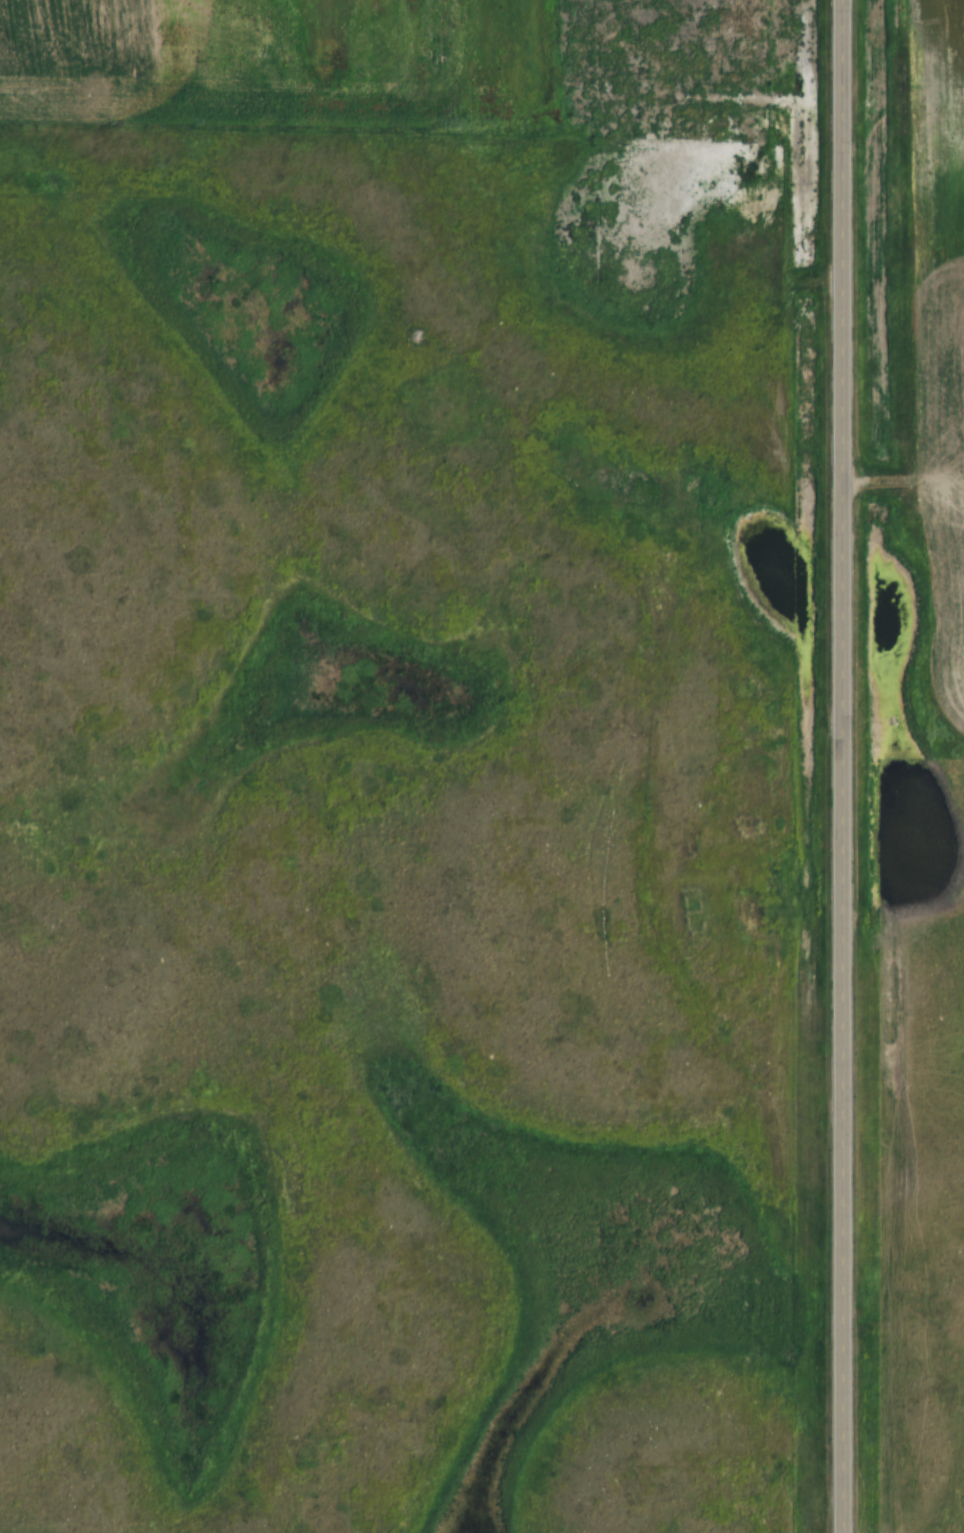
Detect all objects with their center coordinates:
road: (832, 766)

